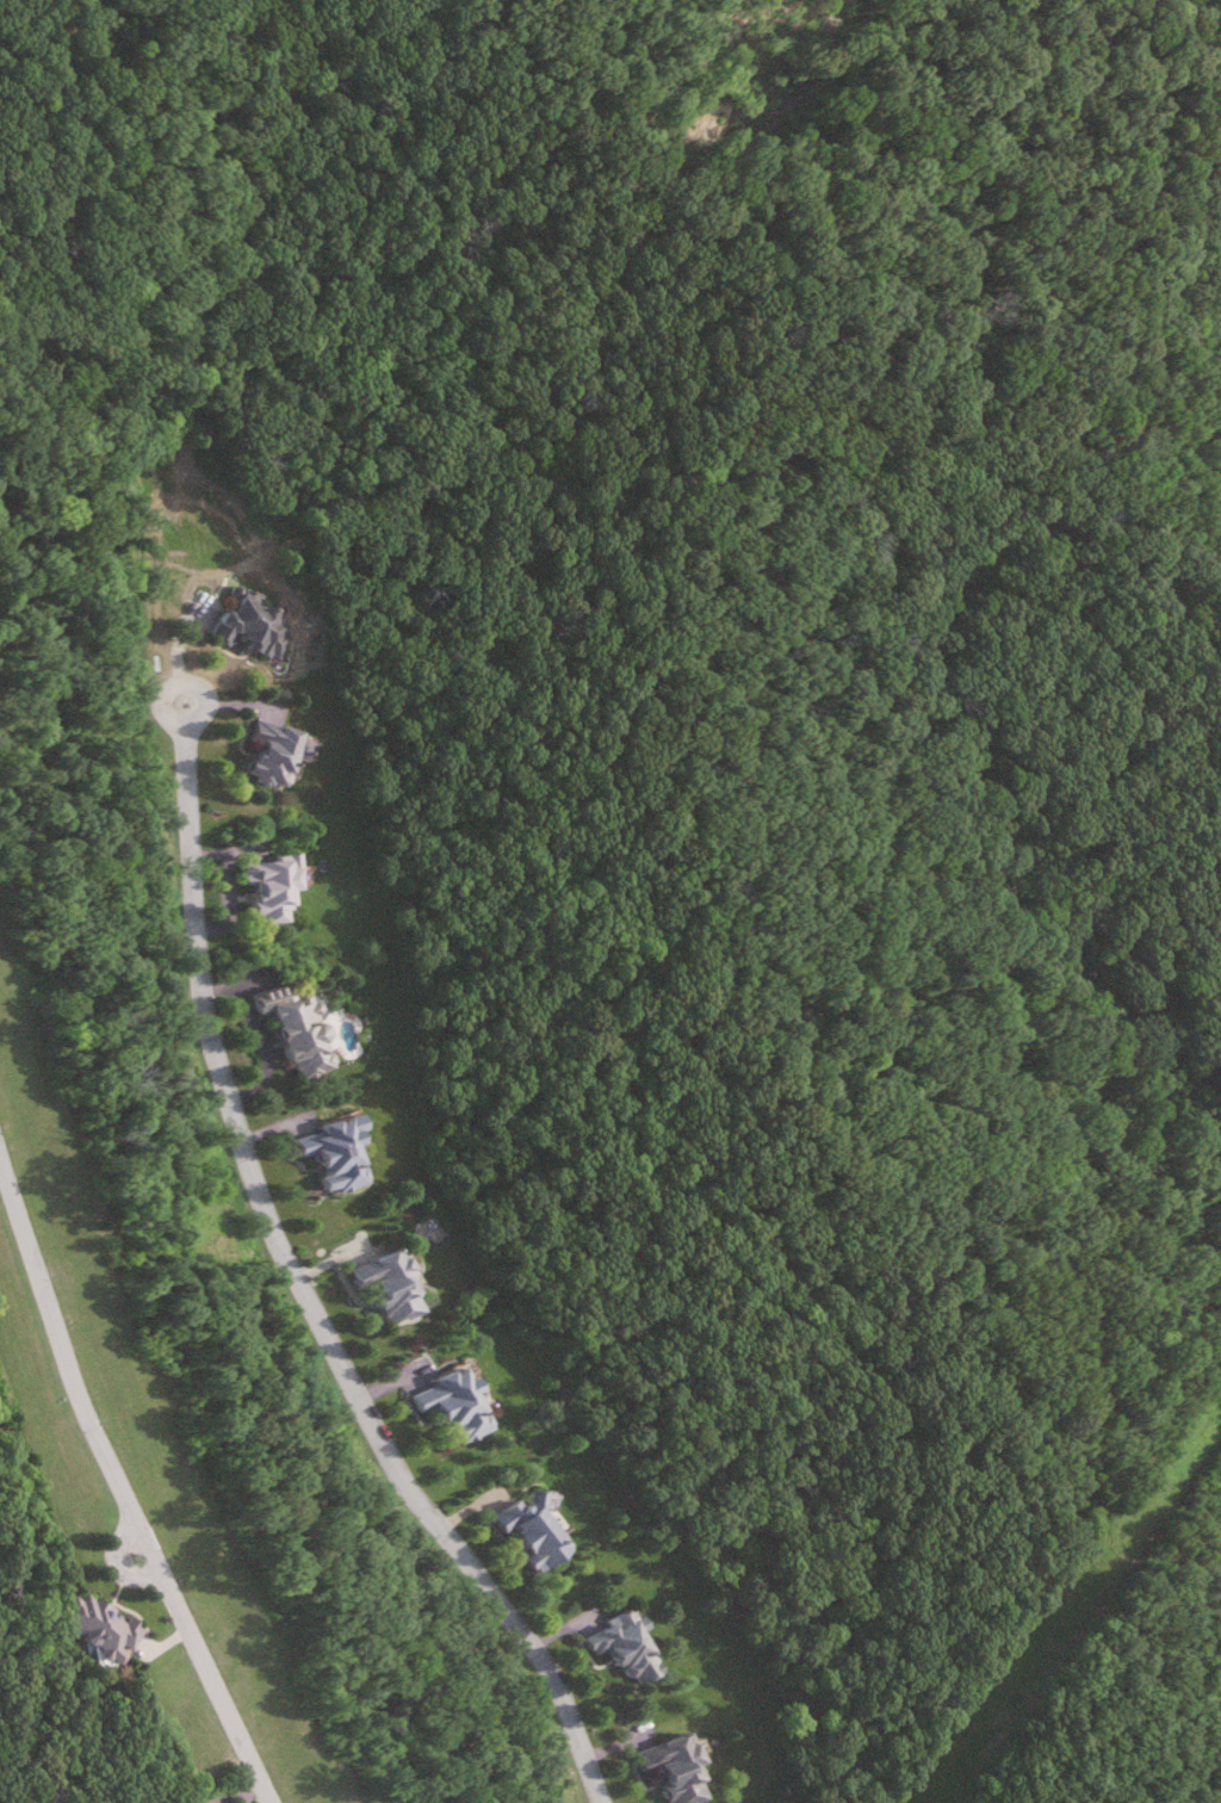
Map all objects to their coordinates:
building: (250, 625)
building: (269, 751)
building: (271, 888)
building: (295, 1029)
building: (336, 1152)
building: (391, 1284)
road: (305, 1287)
building: (454, 1404)
road: (122, 1474)
building: (531, 1531)
building: (107, 1628)
building: (625, 1649)
building: (676, 1768)

